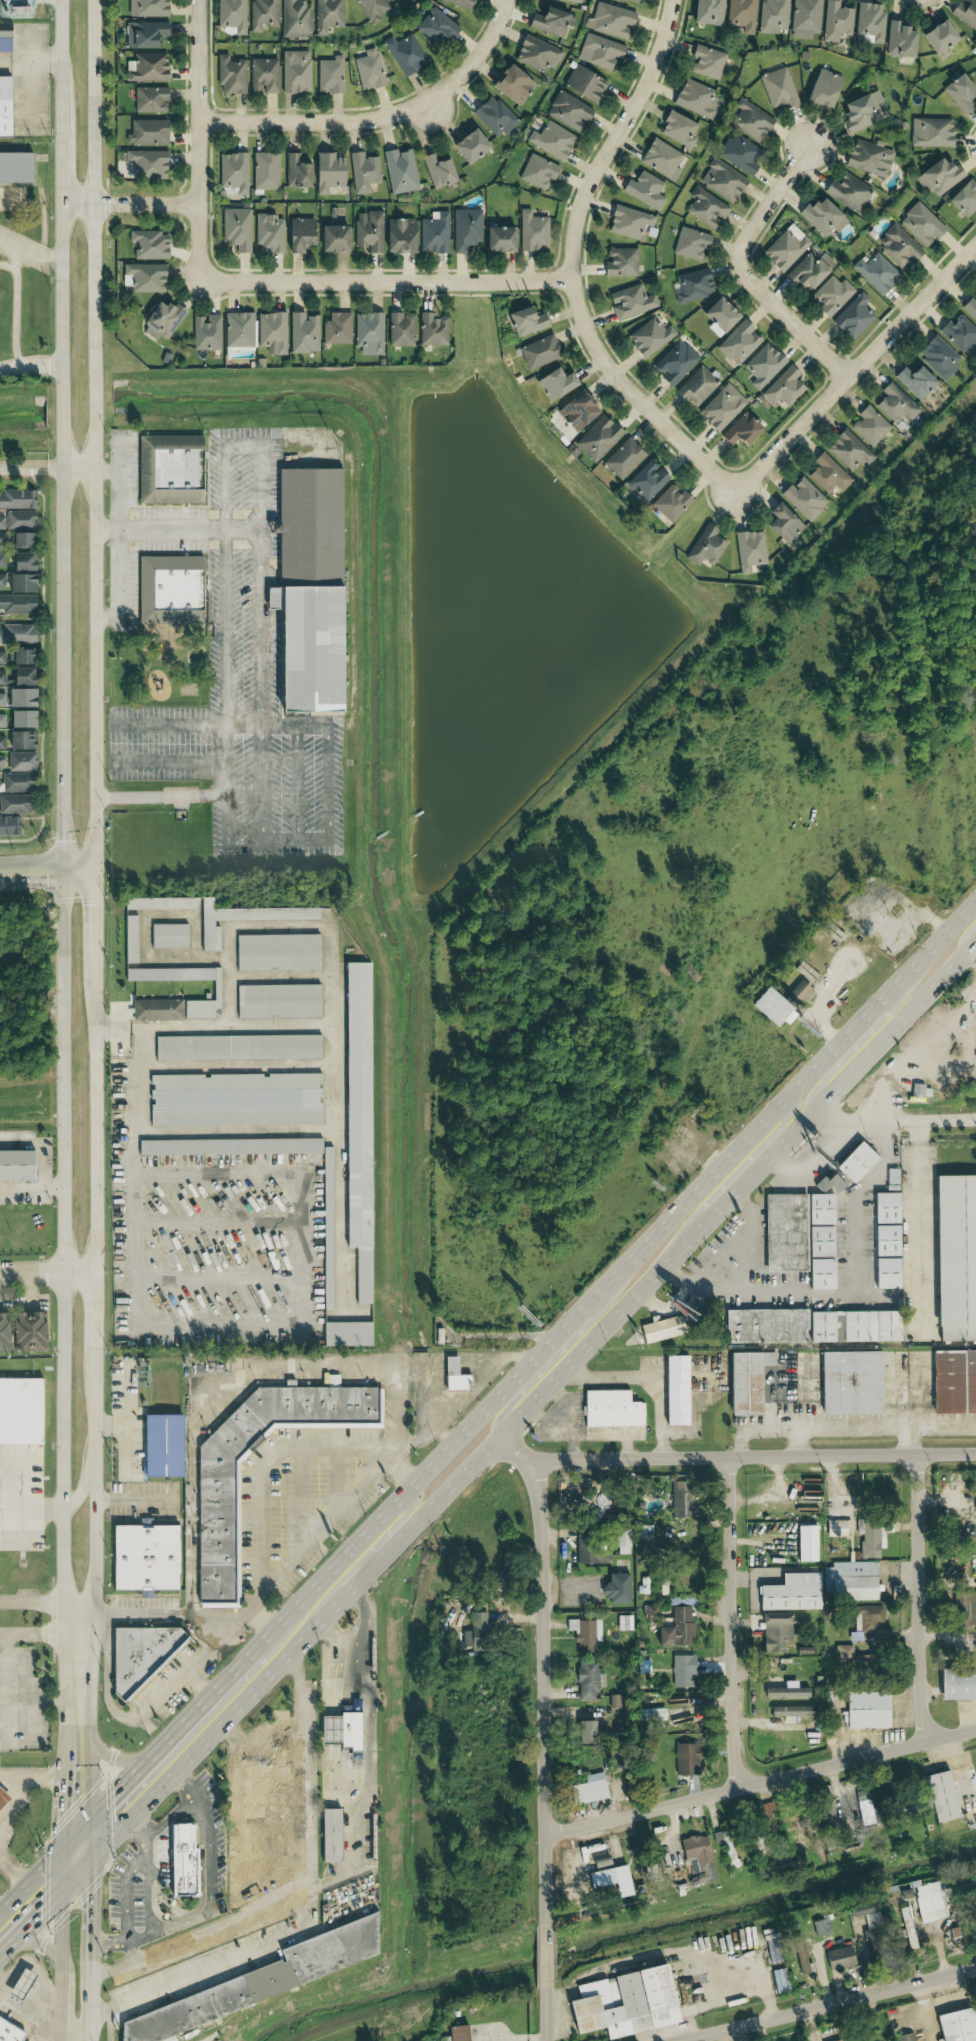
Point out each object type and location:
building: (572, 1)
building: (629, 1)
building: (461, 2)
building: (147, 8)
building: (371, 9)
building: (706, 12)
building: (262, 14)
building: (327, 15)
building: (741, 15)
building: (230, 16)
building: (772, 16)
building: (295, 18)
building: (804, 18)
building: (610, 20)
building: (550, 21)
building: (835, 21)
building: (869, 21)
building: (435, 27)
building: (144, 34)
building: (937, 36)
building: (4, 37)
building: (898, 40)
building: (599, 51)
building: (404, 54)
building: (536, 55)
building: (706, 62)
building: (148, 68)
building: (368, 70)
building: (295, 72)
building: (230, 75)
building: (329, 75)
building: (263, 76)
building: (584, 84)
building: (511, 85)
building: (822, 88)
building: (778, 89)
building: (959, 93)
building: (696, 99)
building: (150, 100)
building: (3, 106)
building: (862, 110)
building: (568, 111)
road: (378, 116)
building: (494, 117)
building: (750, 121)
building: (677, 129)
building: (930, 132)
building: (147, 133)
road: (197, 138)
building: (552, 141)
building: (468, 146)
building: (740, 153)
building: (868, 158)
building: (661, 159)
building: (145, 164)
building: (13, 167)
building: (264, 171)
building: (400, 171)
building: (437, 171)
building: (233, 172)
building: (295, 172)
building: (328, 172)
building: (363, 172)
building: (537, 172)
building: (938, 177)
building: (722, 180)
building: (644, 190)
building: (847, 192)
building: (964, 198)
road: (768, 202)
road: (127, 205)
building: (705, 208)
building: (822, 217)
building: (628, 222)
building: (920, 224)
building: (236, 229)
building: (465, 229)
building: (368, 231)
building: (532, 232)
building: (433, 233)
building: (268, 234)
building: (299, 234)
building: (399, 235)
building: (332, 239)
building: (498, 240)
building: (690, 243)
building: (148, 245)
building: (897, 246)
building: (785, 248)
road: (29, 252)
building: (620, 262)
road: (569, 263)
building: (809, 270)
building: (876, 273)
building: (142, 278)
road: (384, 281)
building: (692, 286)
building: (831, 295)
building: (630, 302)
road: (18, 308)
building: (970, 308)
building: (719, 315)
building: (853, 316)
road: (788, 320)
building: (161, 321)
building: (525, 322)
building: (336, 328)
building: (400, 329)
building: (238, 330)
building: (431, 330)
building: (205, 332)
building: (271, 333)
building: (302, 333)
building: (958, 333)
building: (368, 334)
building: (649, 337)
building: (738, 343)
building: (538, 352)
building: (938, 357)
building: (673, 363)
road: (854, 365)
road: (29, 366)
building: (763, 366)
building: (914, 381)
building: (554, 384)
building: (782, 388)
building: (895, 404)
building: (721, 407)
building: (576, 411)
building: (869, 426)
building: (740, 430)
road: (93, 436)
building: (597, 439)
building: (848, 450)
building: (623, 459)
road: (222, 463)
road: (46, 469)
building: (167, 470)
building: (827, 474)
road: (265, 477)
building: (646, 481)
building: (17, 499)
building: (803, 499)
building: (671, 503)
building: (19, 520)
building: (1, 523)
road: (249, 523)
building: (785, 527)
road: (174, 528)
building: (22, 530)
building: (1, 539)
building: (20, 541)
road: (124, 542)
building: (705, 547)
building: (749, 550)
building: (1, 560)
building: (21, 562)
building: (1, 580)
building: (19, 583)
building: (167, 584)
building: (307, 591)
building: (16, 604)
road: (225, 626)
building: (16, 634)
building: (18, 657)
building: (2, 659)
building: (20, 677)
building: (2, 678)
building: (19, 698)
building: (2, 700)
building: (20, 720)
building: (2, 721)
road: (167, 725)
road: (277, 726)
building: (20, 741)
building: (2, 743)
road: (224, 758)
building: (1, 761)
building: (21, 762)
road: (168, 764)
building: (16, 783)
road: (158, 795)
building: (14, 804)
road: (60, 811)
building: (9, 826)
traffic signals: (60, 841)
road: (301, 841)
road: (46, 873)
traffic signals: (46, 874)
building: (159, 903)
traffic signals: (92, 906)
building: (243, 918)
road: (92, 929)
building: (167, 935)
road: (966, 936)
building: (129, 939)
building: (276, 952)
road: (928, 952)
road: (972, 957)
building: (215, 990)
building: (277, 1001)
road: (822, 1001)
building: (779, 1002)
building: (157, 1010)
road: (860, 1022)
building: (237, 1047)
road: (876, 1047)
road: (915, 1048)
building: (948, 1052)
road: (827, 1075)
building: (916, 1089)
building: (234, 1099)
road: (895, 1120)
building: (356, 1121)
road: (783, 1122)
road: (808, 1159)
building: (855, 1162)
building: (15, 1165)
road: (712, 1176)
road: (741, 1179)
building: (828, 1184)
road: (31, 1185)
road: (866, 1203)
building: (885, 1208)
road: (929, 1225)
building: (327, 1231)
building: (799, 1236)
building: (886, 1240)
building: (954, 1256)
road: (48, 1272)
building: (886, 1273)
road: (752, 1293)
road: (96, 1304)
road: (213, 1324)
building: (765, 1326)
building: (853, 1326)
building: (661, 1328)
building: (2, 1331)
building: (26, 1331)
road: (561, 1333)
building: (345, 1334)
building: (765, 1358)
road: (348, 1363)
building: (453, 1376)
road: (647, 1378)
building: (953, 1381)
building: (743, 1383)
building: (849, 1383)
road: (548, 1386)
road: (473, 1389)
building: (674, 1389)
road: (514, 1396)
road: (425, 1403)
building: (20, 1406)
road: (911, 1406)
building: (610, 1409)
road: (803, 1409)
road: (564, 1419)
road: (847, 1426)
road: (567, 1429)
road: (599, 1436)
building: (164, 1440)
road: (514, 1450)
road: (753, 1457)
road: (81, 1490)
building: (682, 1499)
building: (974, 1499)
road: (397, 1502)
road: (15, 1508)
road: (335, 1513)
road: (397, 1522)
building: (216, 1526)
building: (835, 1528)
building: (871, 1539)
building: (622, 1541)
building: (805, 1543)
road: (265, 1545)
building: (590, 1550)
building: (145, 1551)
road: (365, 1576)
building: (850, 1580)
building: (615, 1589)
building: (790, 1593)
road: (919, 1599)
road: (42, 1601)
road: (365, 1605)
building: (966, 1609)
road: (94, 1617)
road: (265, 1621)
building: (866, 1621)
road: (732, 1622)
building: (676, 1628)
building: (474, 1630)
building: (775, 1631)
building: (585, 1632)
road: (41, 1634)
road: (340, 1640)
building: (142, 1651)
road: (78, 1670)
building: (682, 1670)
building: (587, 1679)
building: (957, 1684)
road: (5, 1690)
road: (542, 1692)
building: (786, 1692)
road: (29, 1700)
building: (614, 1701)
road: (54, 1703)
building: (866, 1710)
road: (140, 1711)
building: (791, 1711)
building: (655, 1714)
road: (298, 1716)
building: (331, 1724)
building: (351, 1726)
road: (219, 1727)
road: (236, 1728)
building: (584, 1732)
road: (167, 1740)
road: (330, 1740)
road: (2, 1745)
road: (105, 1755)
building: (686, 1759)
building: (615, 1761)
road: (955, 1768)
road: (78, 1778)
road: (37, 1779)
road: (760, 1782)
building: (259, 1785)
road: (190, 1789)
building: (588, 1789)
building: (3, 1792)
building: (940, 1796)
traffic signals: (78, 1798)
traffic signals: (113, 1798)
road: (303, 1803)
road: (357, 1805)
building: (865, 1807)
road: (21, 1814)
building: (827, 1816)
road: (173, 1817)
building: (331, 1830)
building: (373, 1830)
road: (84, 1846)
building: (728, 1849)
building: (697, 1857)
road: (17, 1861)
building: (180, 1862)
road: (38, 1873)
road: (210, 1880)
building: (610, 1880)
building: (633, 1880)
road: (127, 1889)
road: (62, 1890)
traffic signals: (91, 1895)
road: (146, 1898)
road: (200, 1901)
building: (929, 1902)
road: (45, 1907)
road: (1, 1909)
traffic signals: (39, 1915)
road: (91, 1918)
road: (239, 1920)
building: (820, 1928)
building: (868, 1929)
road: (149, 1935)
river: (618, 1936)
road: (40, 1945)
building: (772, 1948)
road: (131, 1952)
road: (546, 1955)
building: (800, 1955)
building: (838, 1958)
road: (37, 1962)
road: (211, 1966)
building: (257, 1977)
building: (23, 1979)
gas station: (23, 1979)
building: (779, 1981)
road: (61, 1990)
road: (42, 2000)
building: (626, 2003)
road: (827, 2004)
road: (30, 2006)
road: (90, 2009)
road: (547, 2013)
road: (109, 2025)
building: (956, 2026)
building: (10, 2029)
road: (75, 2032)
building: (459, 2033)
road: (59, 2036)
building: (904, 2037)
building: (491, 2040)
building: (836, 2040)

